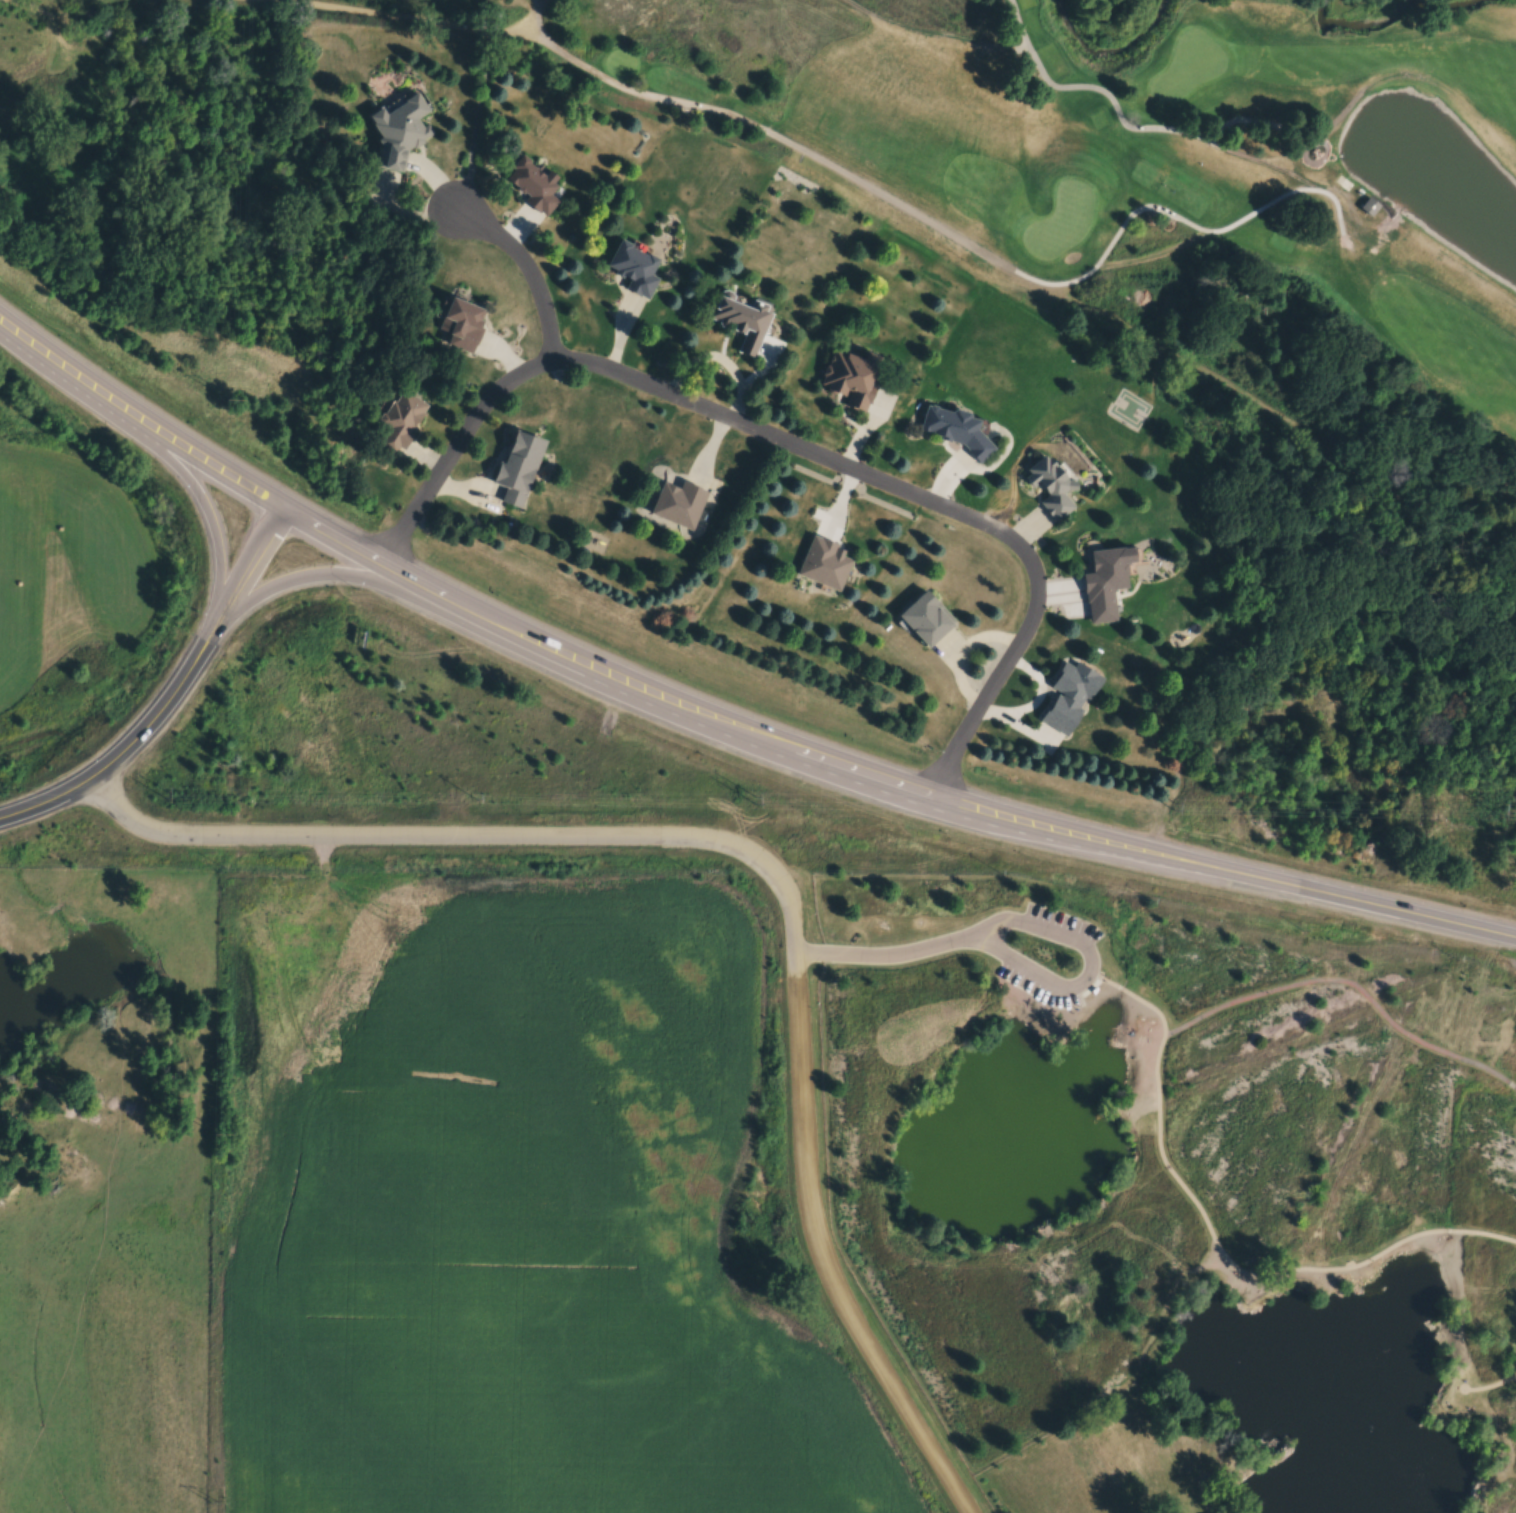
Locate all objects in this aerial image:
power tower: (239, 45)
park: (1188, 74)
building: (1344, 185)
park: (1101, 193)
road: (923, 220)
park: (1060, 224)
road: (528, 268)
power tower: (232, 402)
road: (794, 446)
building: (512, 470)
building: (1051, 487)
road: (195, 493)
building: (819, 568)
road: (336, 576)
building: (1106, 583)
building: (920, 623)
road: (171, 695)
road: (719, 720)
power tower: (225, 768)
power tower: (164, 796)
power tower: (751, 801)
power tower: (1170, 807)
power tower: (1499, 814)
road: (469, 836)
road: (884, 957)
parking lot: (1015, 959)
road: (1089, 968)
road: (1321, 981)
road: (1470, 1063)
road: (1492, 1073)
road: (1511, 1085)
power tower: (219, 1136)
park: (1171, 1190)
road: (1215, 1242)
road: (820, 1253)
road: (1490, 1389)
power tower: (215, 1506)

